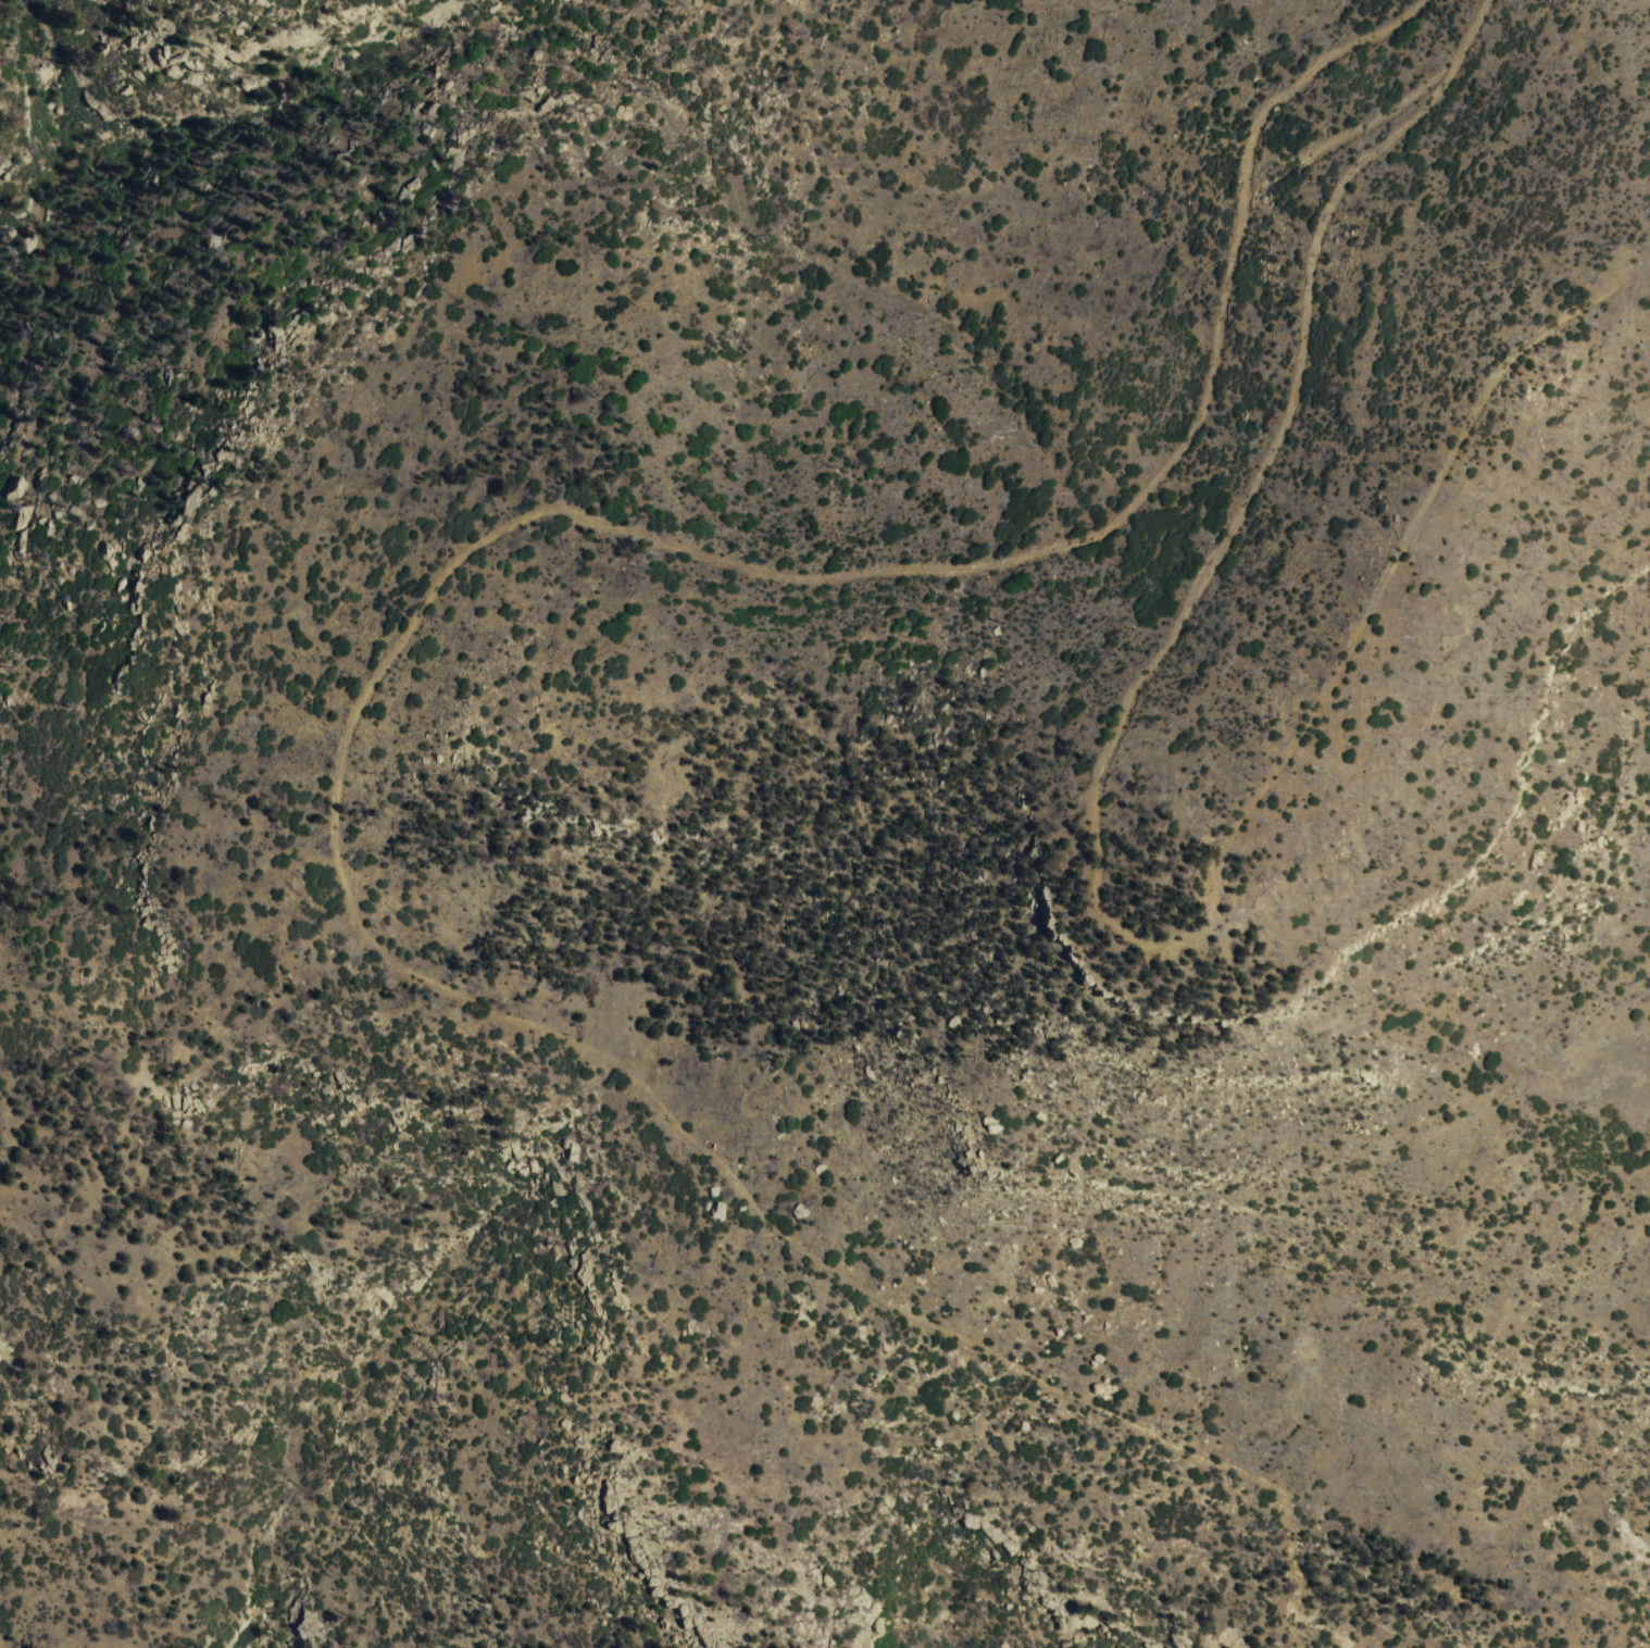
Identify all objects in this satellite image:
road: (362, 692)
road: (1089, 854)

